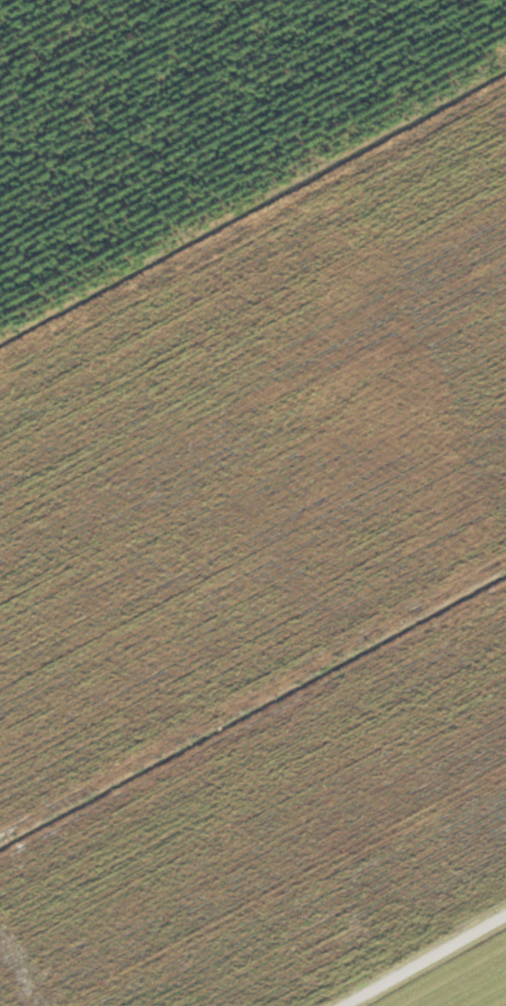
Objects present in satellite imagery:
road: (422, 959)

